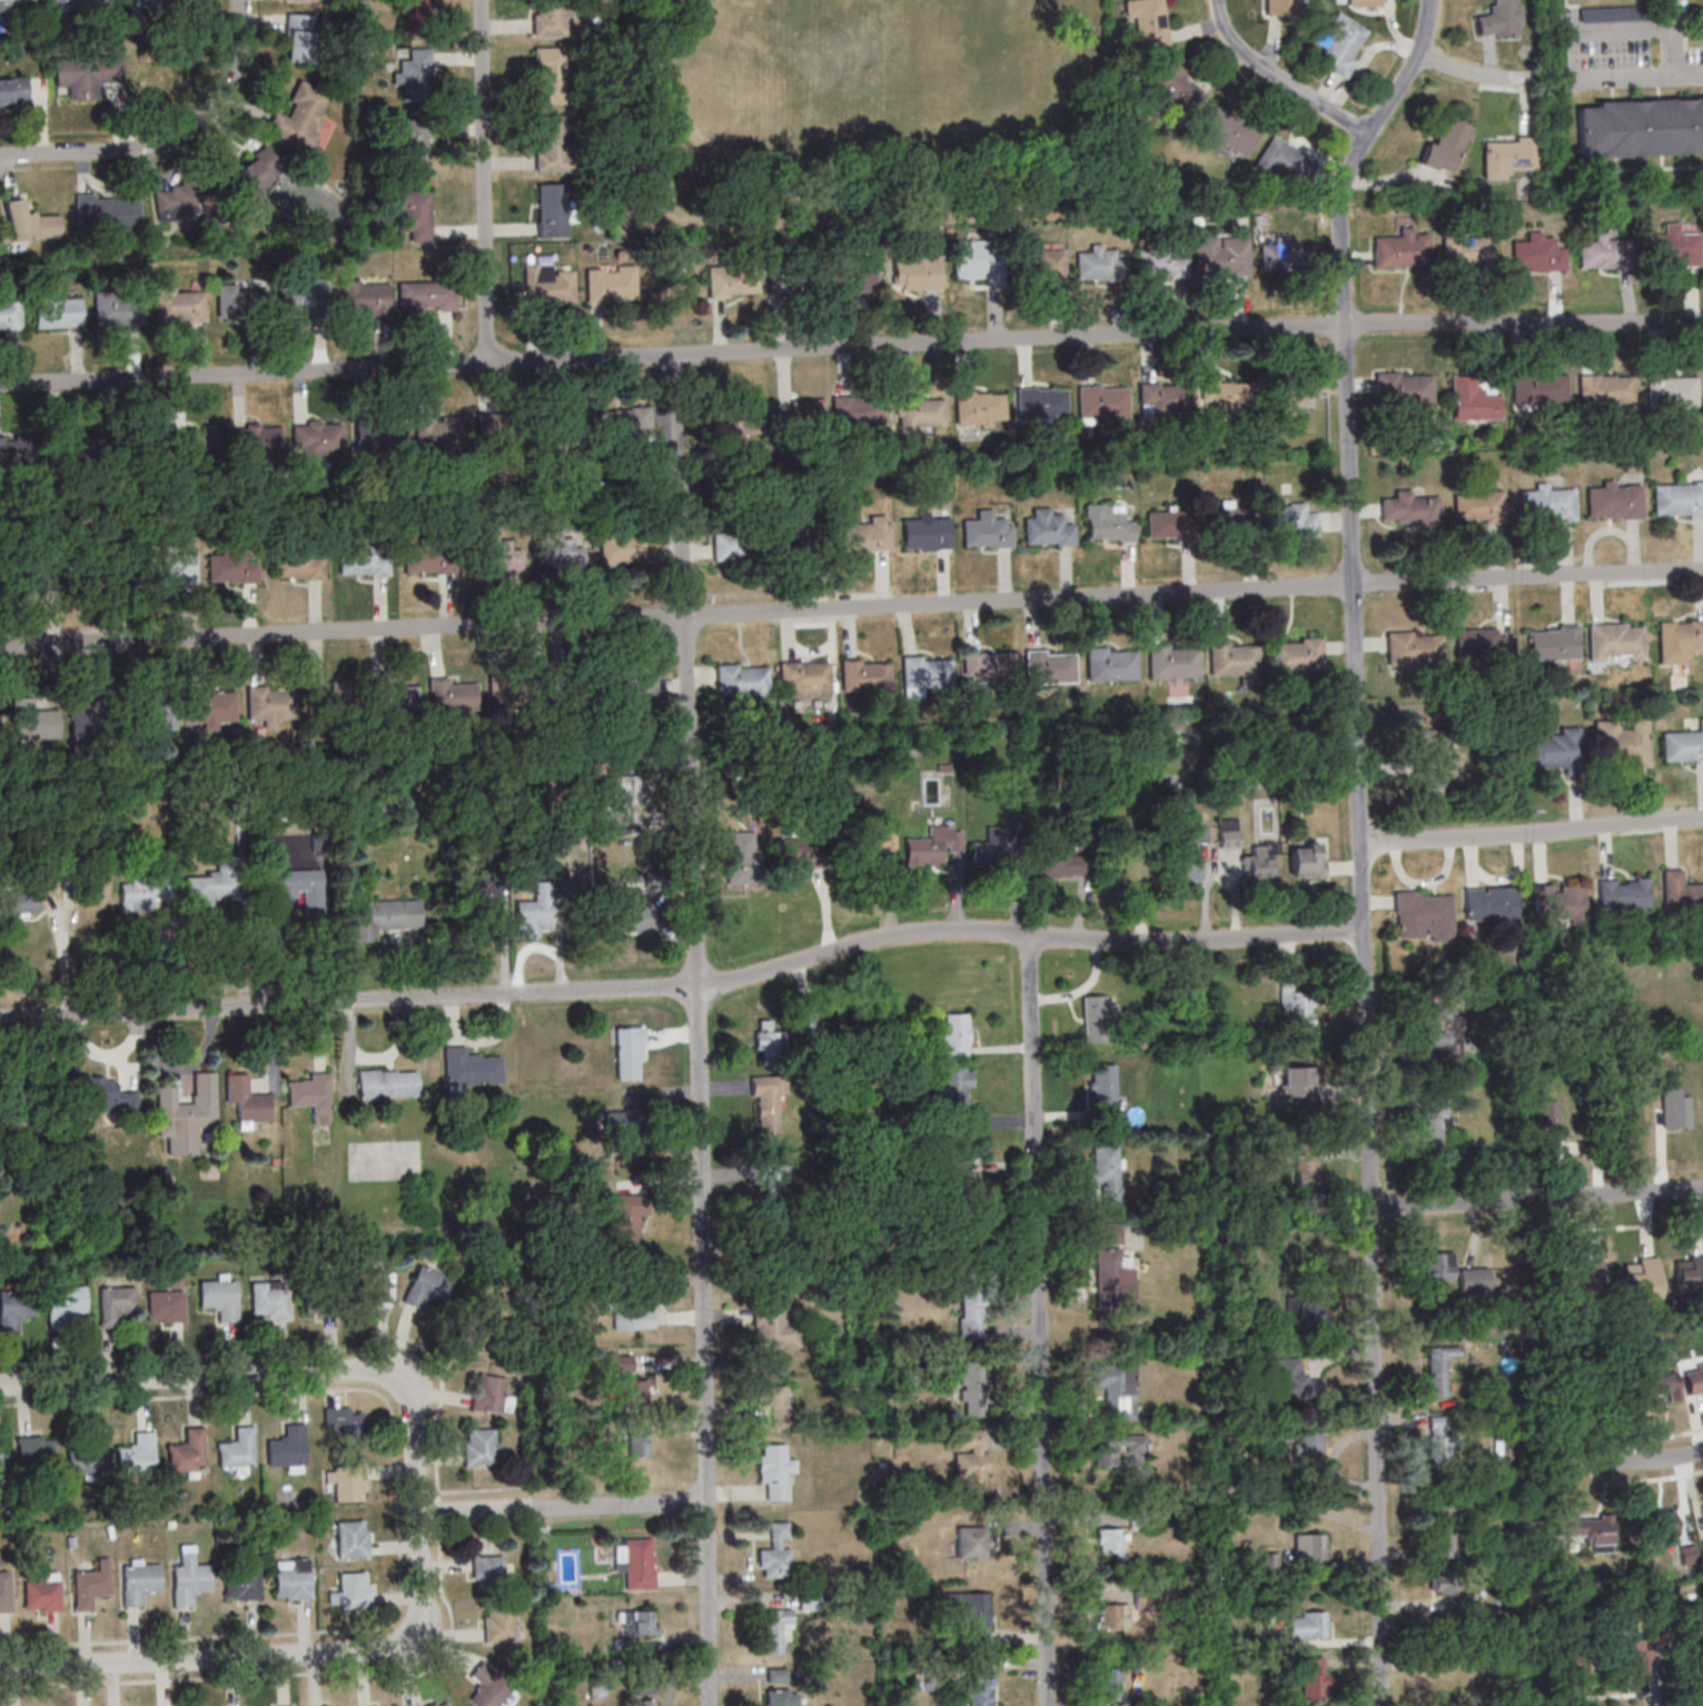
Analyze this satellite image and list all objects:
building: (299, 0)
building: (1363, 2)
building: (14, 4)
building: (77, 4)
building: (1279, 8)
building: (1608, 14)
building: (414, 18)
building: (548, 18)
building: (1499, 18)
building: (1147, 22)
building: (300, 38)
road: (1672, 38)
building: (1339, 43)
building: (1701, 57)
road: (1471, 73)
building: (83, 75)
building: (413, 76)
building: (547, 77)
road: (1279, 77)
road: (1635, 78)
building: (1176, 88)
building: (13, 91)
building: (299, 117)
building: (1640, 126)
building: (1228, 132)
road: (167, 138)
building: (410, 143)
building: (552, 147)
building: (1446, 147)
building: (1507, 157)
building: (1283, 160)
road: (483, 179)
building: (250, 184)
building: (176, 202)
building: (551, 211)
building: (102, 214)
building: (413, 214)
building: (30, 222)
building: (1399, 248)
building: (1467, 248)
building: (1671, 248)
building: (1538, 254)
building: (1218, 255)
building: (1603, 255)
building: (1281, 256)
building: (974, 259)
building: (1158, 260)
building: (1042, 264)
building: (1097, 264)
building: (917, 271)
building: (854, 274)
building: (729, 281)
building: (611, 285)
building: (548, 287)
building: (423, 295)
building: (362, 296)
building: (299, 299)
building: (237, 302)
building: (176, 304)
building: (115, 309)
building: (53, 311)
building: (8, 315)
road: (851, 345)
building: (1537, 388)
building: (1404, 389)
building: (1606, 389)
building: (1667, 393)
building: (1224, 394)
building: (1294, 396)
building: (1164, 399)
building: (1473, 400)
building: (1041, 401)
building: (1102, 403)
building: (980, 407)
building: (857, 409)
building: (808, 411)
building: (919, 413)
building: (620, 420)
building: (742, 421)
building: (502, 430)
building: (556, 432)
building: (437, 434)
building: (378, 435)
building: (201, 439)
building: (257, 439)
building: (314, 439)
building: (129, 444)
building: (1676, 497)
building: (1612, 500)
building: (1477, 504)
building: (1545, 504)
building: (1410, 509)
building: (1288, 518)
building: (1226, 519)
building: (1168, 524)
building: (1107, 525)
building: (1044, 527)
building: (984, 530)
building: (927, 532)
building: (862, 535)
building: (791, 538)
building: (731, 539)
building: (626, 546)
building: (555, 549)
building: (493, 554)
building: (425, 557)
building: (359, 558)
building: (129, 562)
building: (295, 562)
building: (168, 565)
building: (229, 565)
building: (29, 573)
road: (851, 608)
building: (1611, 639)
building: (1677, 639)
building: (1481, 642)
building: (1549, 643)
building: (1412, 648)
building: (1295, 654)
building: (1170, 661)
building: (1234, 661)
building: (1108, 663)
building: (1047, 666)
building: (989, 669)
building: (923, 672)
building: (867, 674)
building: (805, 678)
building: (741, 680)
building: (628, 688)
building: (571, 690)
building: (508, 692)
building: (449, 696)
building: (390, 698)
building: (268, 702)
building: (208, 704)
building: (329, 707)
building: (148, 708)
building: (31, 718)
building: (88, 724)
building: (1618, 742)
building: (1682, 744)
building: (1556, 748)
building: (1436, 757)
building: (618, 803)
road: (1532, 835)
building: (1229, 837)
road: (1360, 842)
building: (887, 843)
building: (933, 845)
building: (999, 847)
building: (796, 855)
building: (1307, 860)
building: (1184, 861)
building: (1061, 862)
building: (1260, 862)
building: (294, 883)
building: (217, 887)
building: (1679, 892)
building: (484, 894)
building: (1623, 894)
building: (142, 895)
building: (630, 900)
building: (17, 901)
building: (1555, 902)
building: (1491, 904)
building: (382, 916)
building: (534, 916)
building: (1424, 916)
road: (1027, 936)
road: (349, 1000)
building: (1297, 1002)
building: (1098, 1018)
building: (1435, 1026)
road: (699, 1029)
building: (956, 1033)
building: (768, 1041)
building: (628, 1052)
building: (465, 1069)
building: (1297, 1082)
building: (383, 1083)
building: (953, 1085)
building: (1105, 1091)
building: (107, 1094)
building: (308, 1095)
building: (242, 1098)
building: (766, 1103)
building: (1548, 1115)
building: (180, 1117)
building: (1434, 1120)
building: (620, 1123)
building: (953, 1161)
building: (1306, 1167)
building: (1108, 1173)
building: (774, 1181)
road: (1537, 1199)
building: (626, 1222)
building: (1109, 1233)
building: (1438, 1264)
building: (1689, 1274)
building: (1113, 1278)
building: (1640, 1278)
building: (1473, 1280)
building: (1583, 1285)
building: (367, 1287)
building: (428, 1287)
building: (315, 1295)
building: (217, 1297)
building: (268, 1300)
building: (113, 1302)
building: (62, 1303)
building: (14, 1306)
building: (164, 1306)
building: (1303, 1309)
building: (971, 1313)
building: (634, 1317)
road: (1039, 1321)
building: (772, 1328)
building: (465, 1337)
road: (174, 1356)
building: (1509, 1362)
building: (618, 1366)
building: (1439, 1368)
road: (267, 1372)
building: (970, 1373)
building: (1694, 1379)
building: (1295, 1380)
building: (1662, 1387)
building: (1117, 1389)
building: (626, 1391)
building: (489, 1393)
building: (771, 1396)
building: (343, 1419)
building: (1440, 1436)
building: (1309, 1442)
building: (638, 1444)
building: (479, 1446)
building: (285, 1447)
building: (235, 1448)
building: (37, 1449)
building: (1103, 1450)
building: (184, 1451)
building: (85, 1455)
building: (136, 1455)
building: (971, 1457)
building: (1, 1460)
road: (1628, 1461)
building: (774, 1472)
building: (1142, 1472)
building: (345, 1481)
road: (562, 1507)
road: (395, 1512)
building: (1661, 1527)
building: (1446, 1529)
building: (1590, 1530)
building: (348, 1538)
building: (1109, 1540)
building: (972, 1541)
building: (1702, 1543)
building: (1309, 1546)
building: (776, 1551)
building: (1683, 1555)
building: (1270, 1560)
building: (637, 1561)
building: (488, 1568)
building: (136, 1581)
building: (186, 1581)
building: (293, 1581)
building: (242, 1584)
building: (1446, 1584)
building: (89, 1585)
building: (352, 1589)
building: (3, 1591)
building: (43, 1593)
building: (808, 1601)
building: (969, 1614)
building: (1112, 1616)
building: (1274, 1620)
building: (640, 1621)
building: (499, 1624)
building: (1309, 1625)
building: (775, 1629)
building: (1644, 1646)
road: (268, 1656)
building: (1574, 1660)
road: (344, 1670)
building: (1314, 1677)
building: (1110, 1680)
building: (1447, 1683)
building: (489, 1687)
building: (980, 1687)
building: (783, 1697)
building: (647, 1702)
building: (281, 1705)
building: (434, 1705)
building: (448, 1705)

